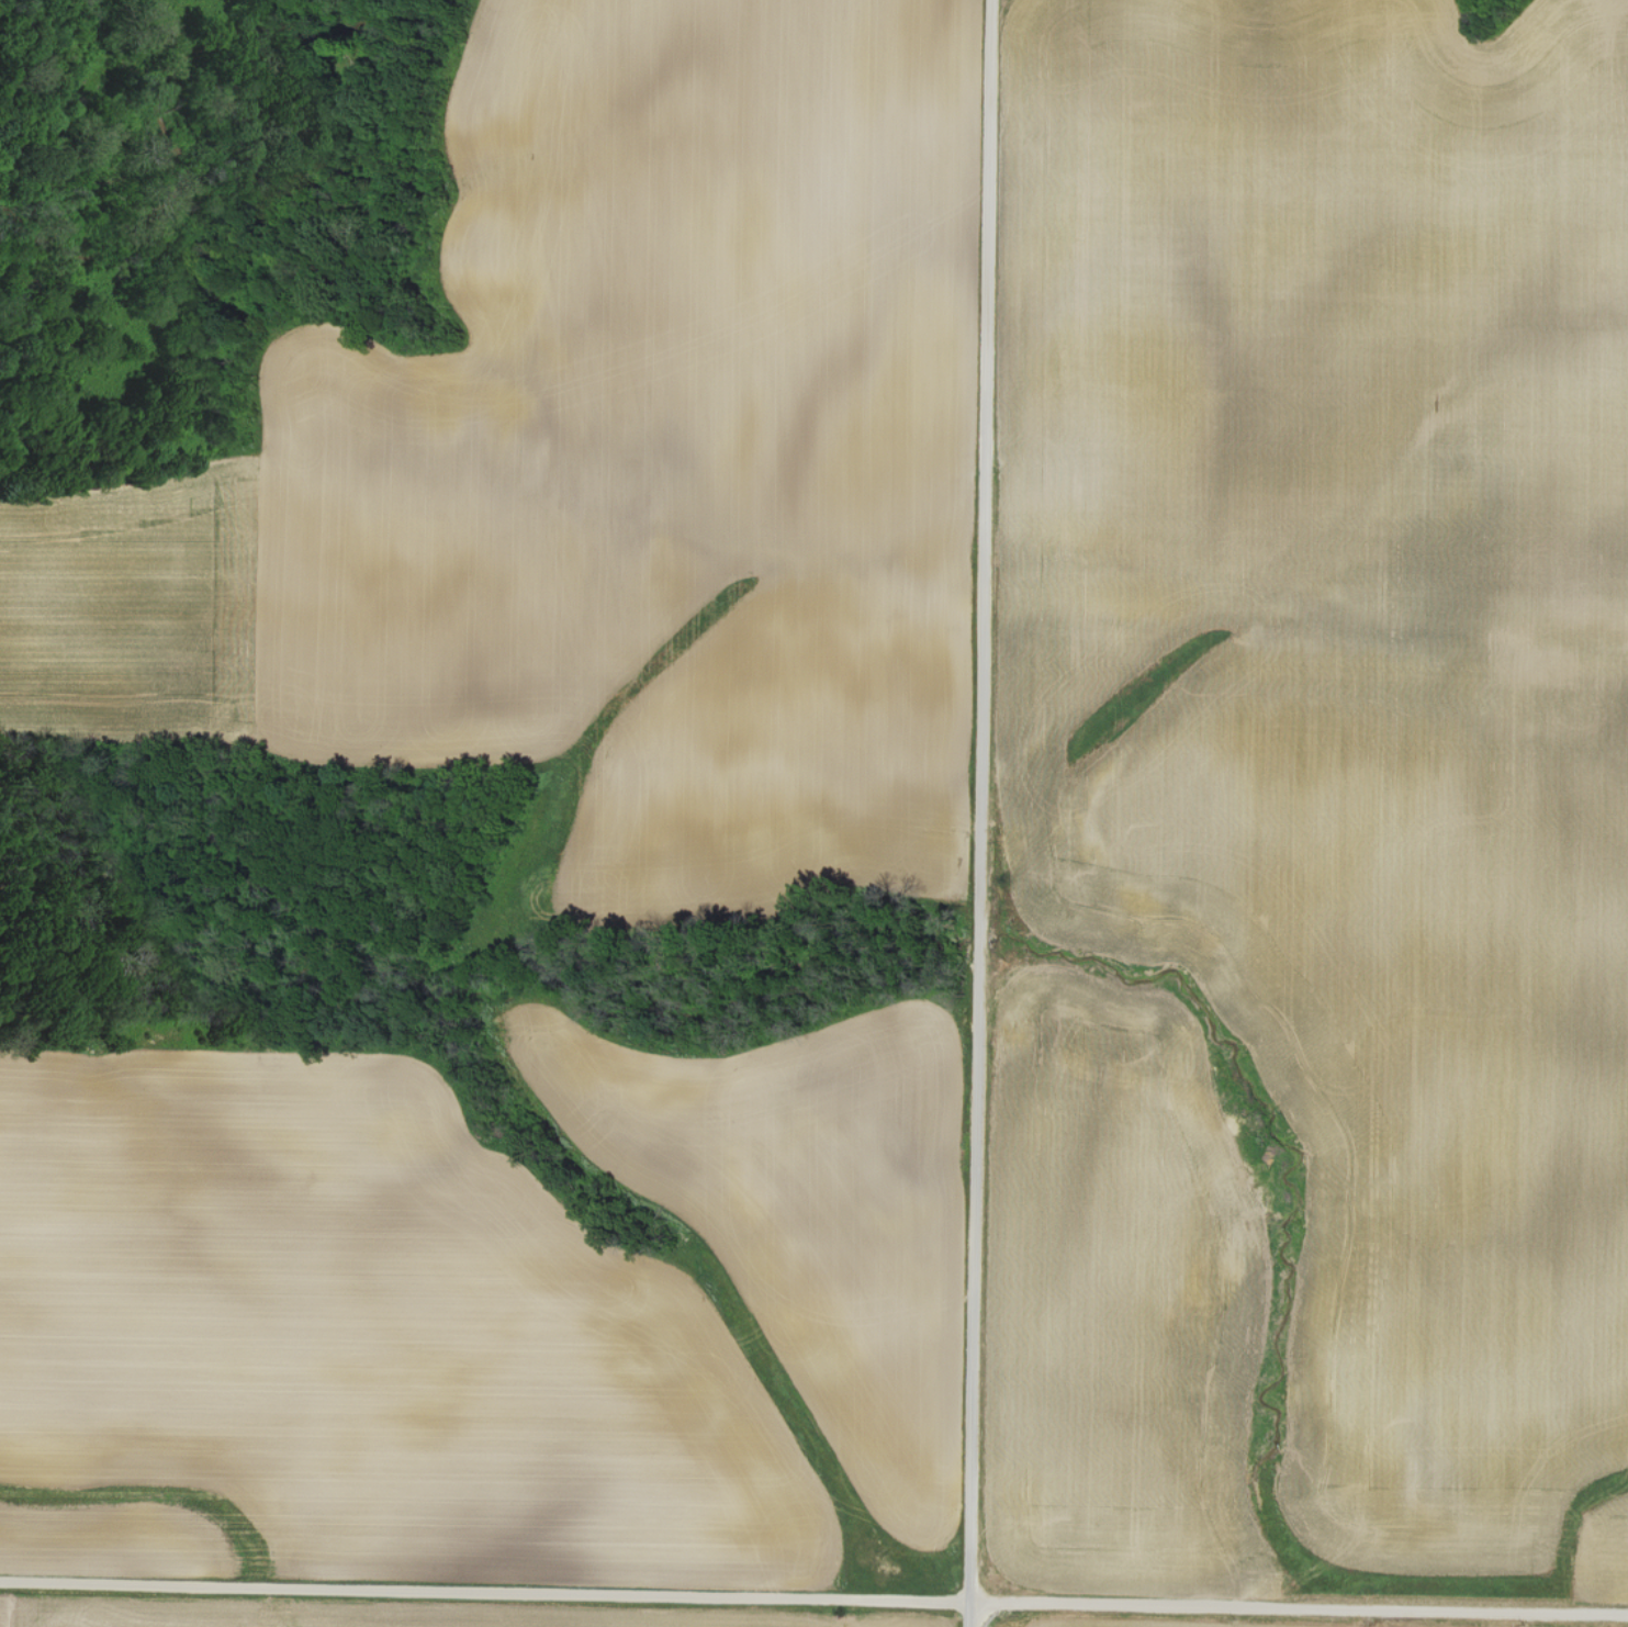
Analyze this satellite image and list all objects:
road: (985, 813)
road: (813, 1600)

